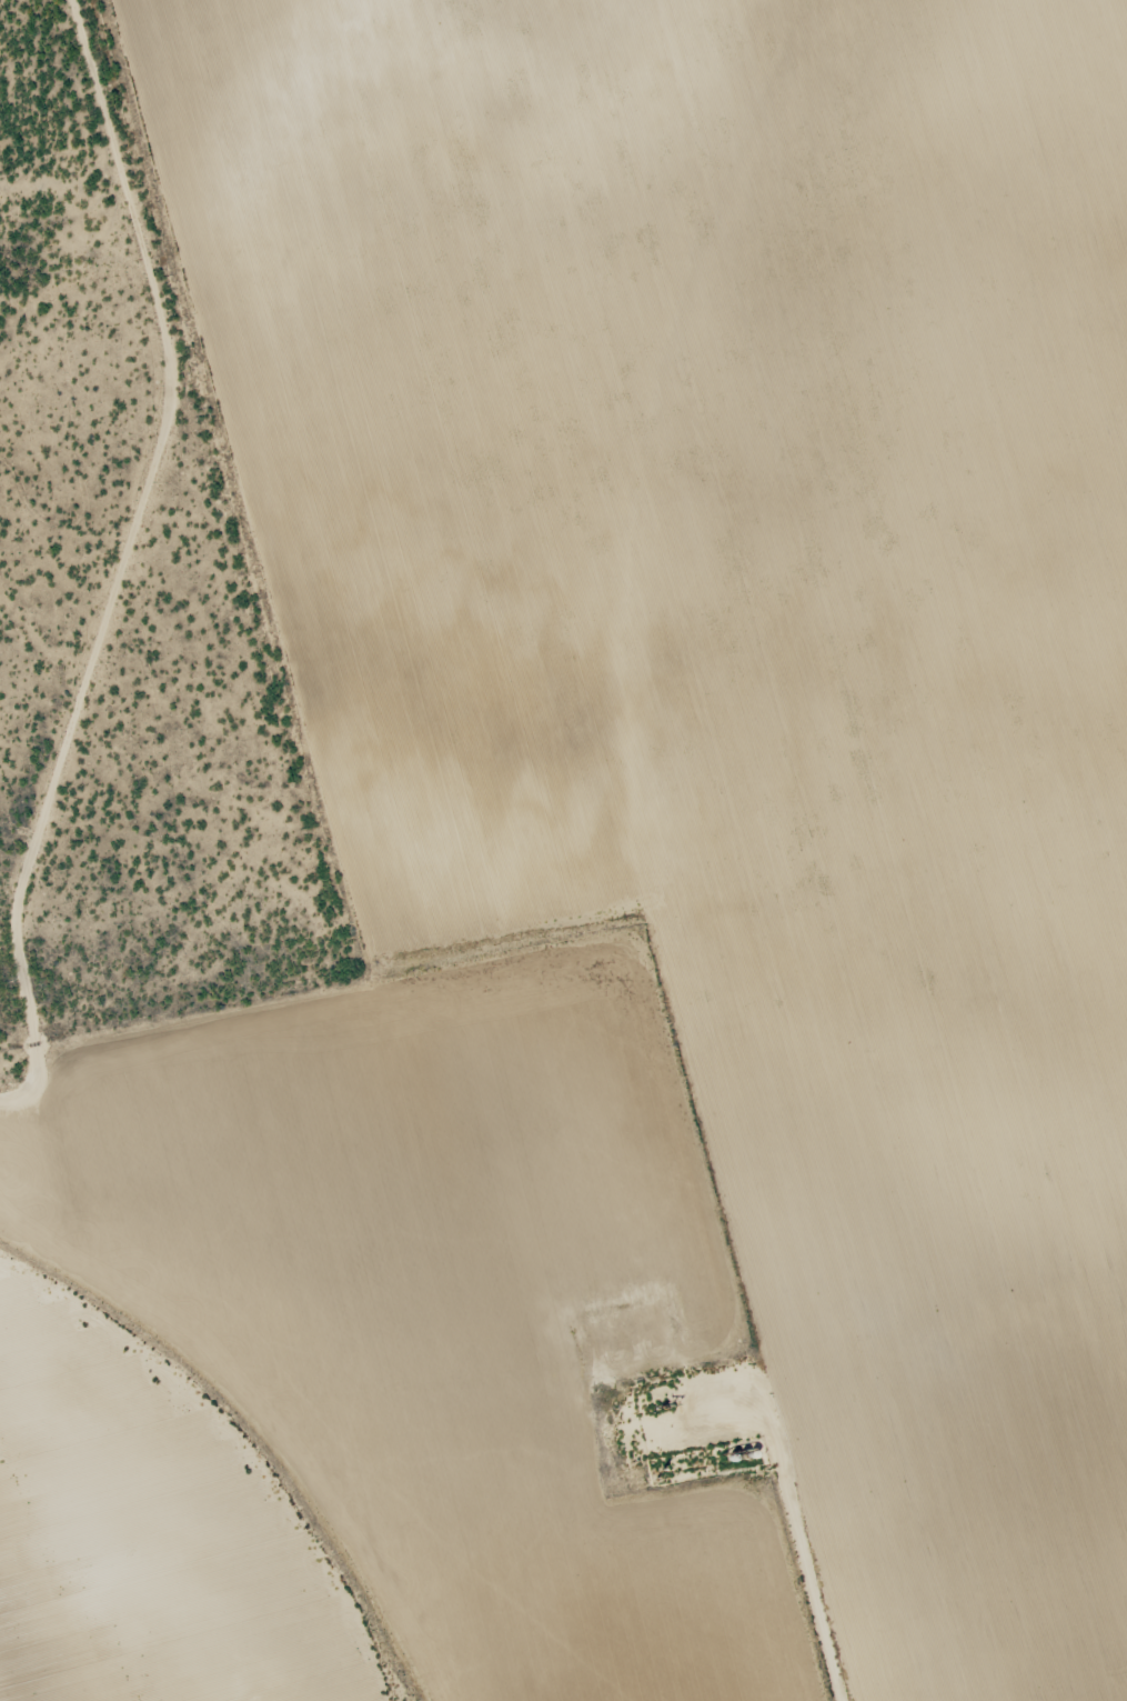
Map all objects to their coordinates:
river: (32, 1643)

